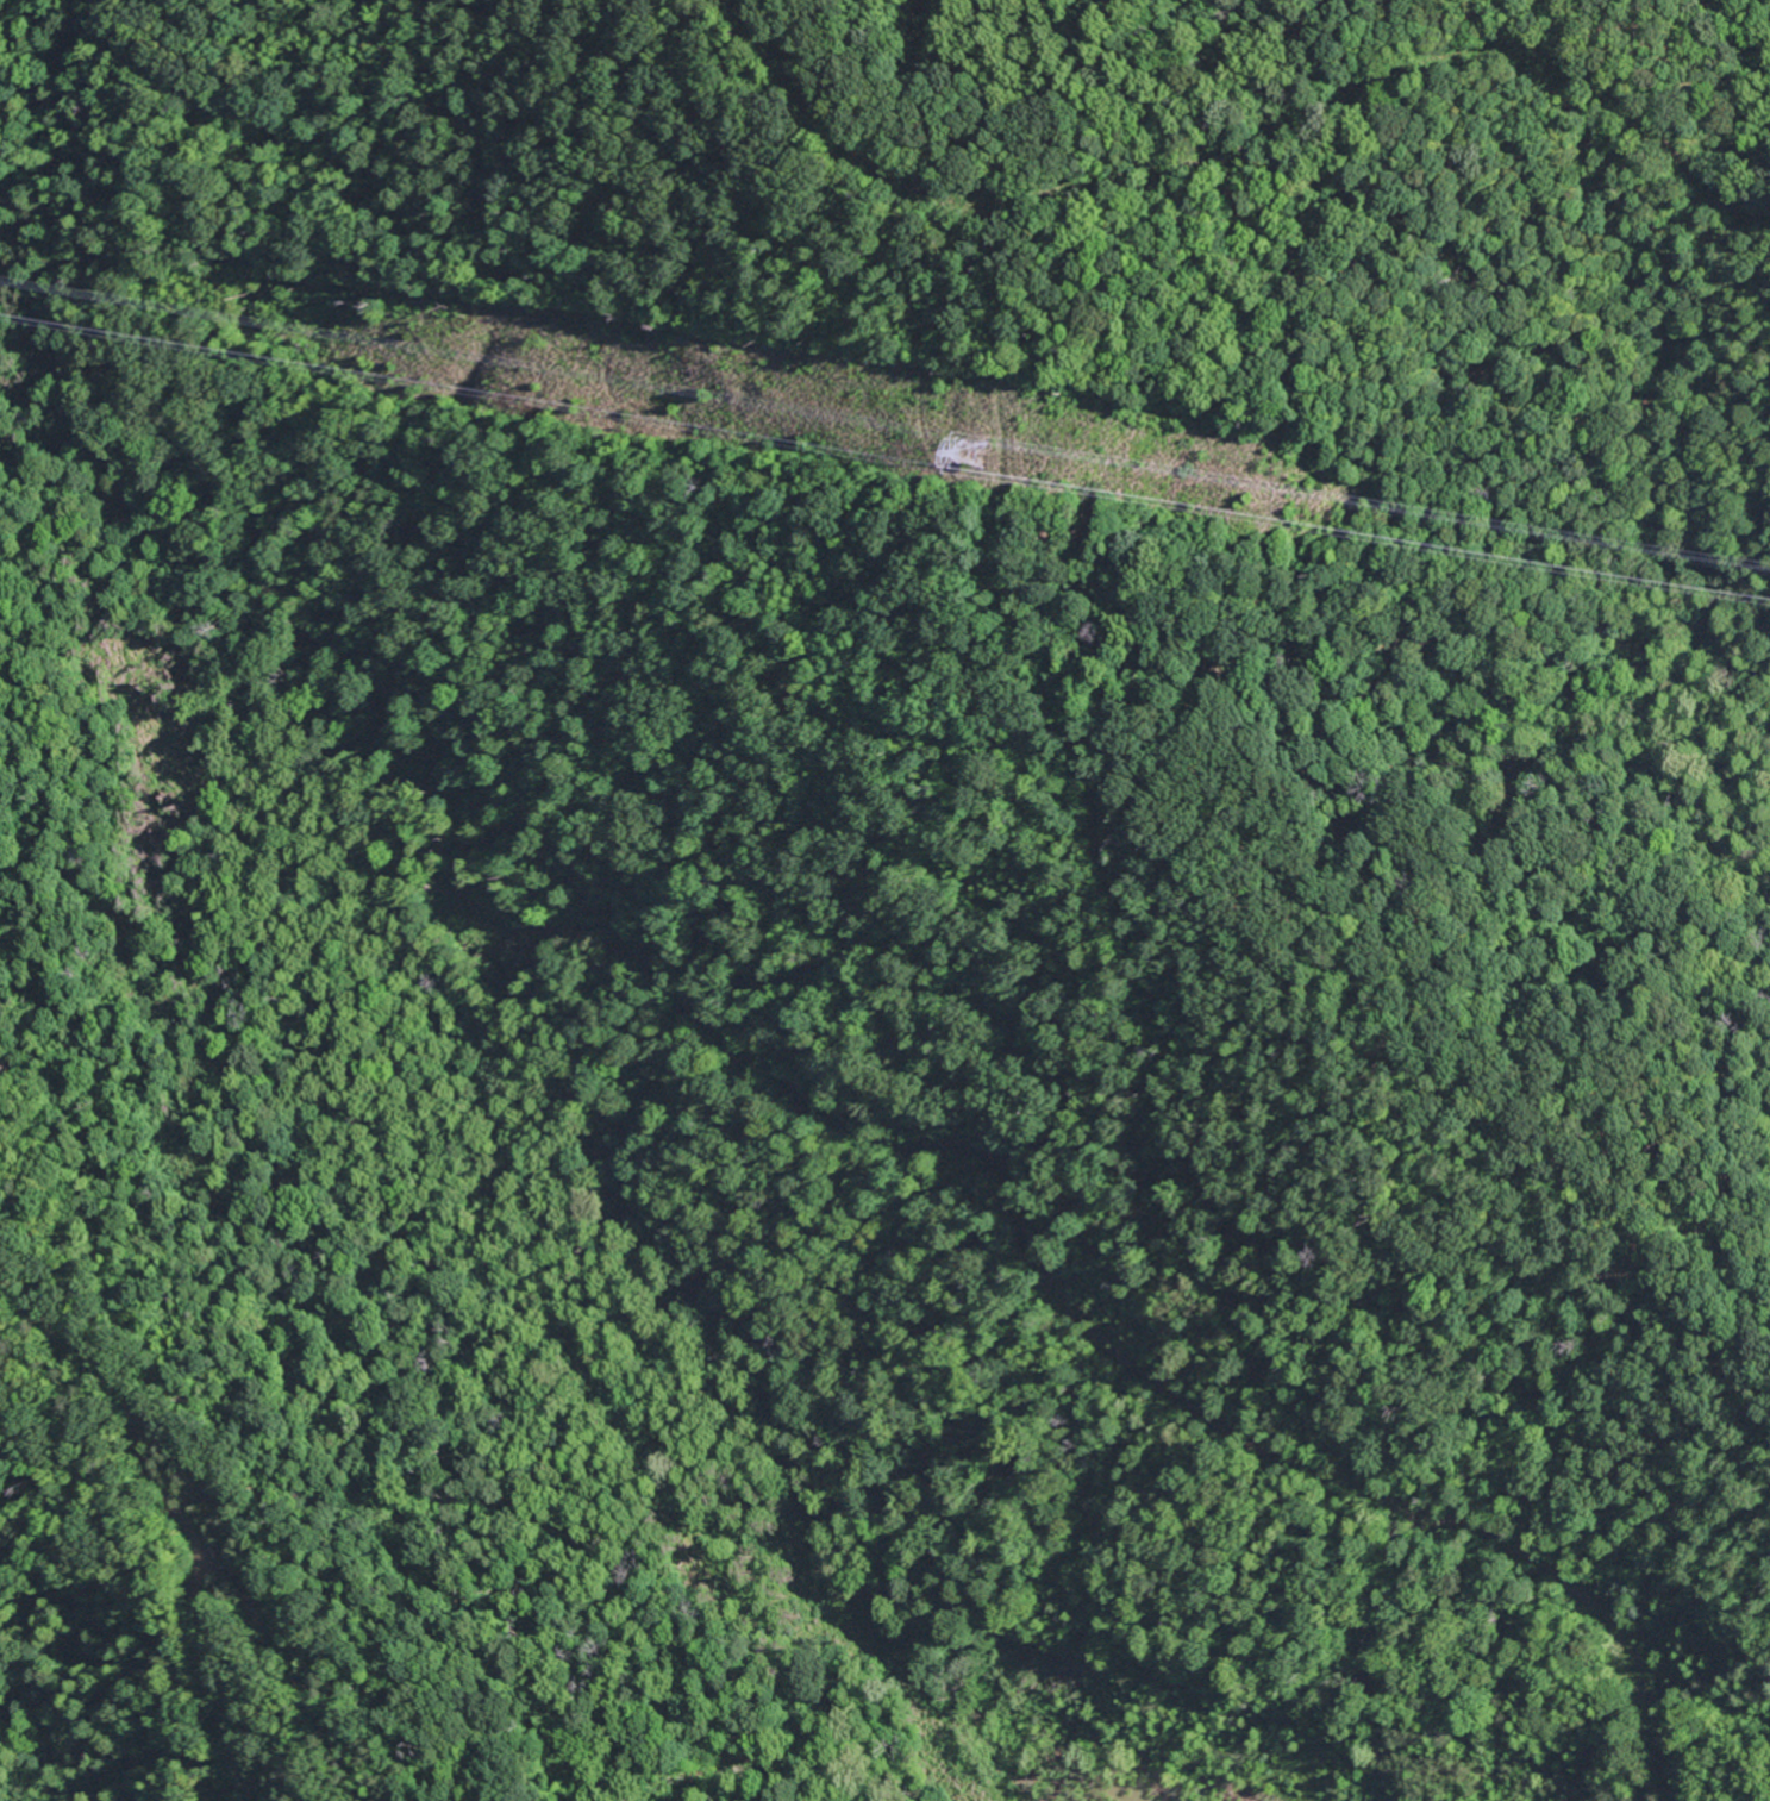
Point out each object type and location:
power tower: (970, 454)

